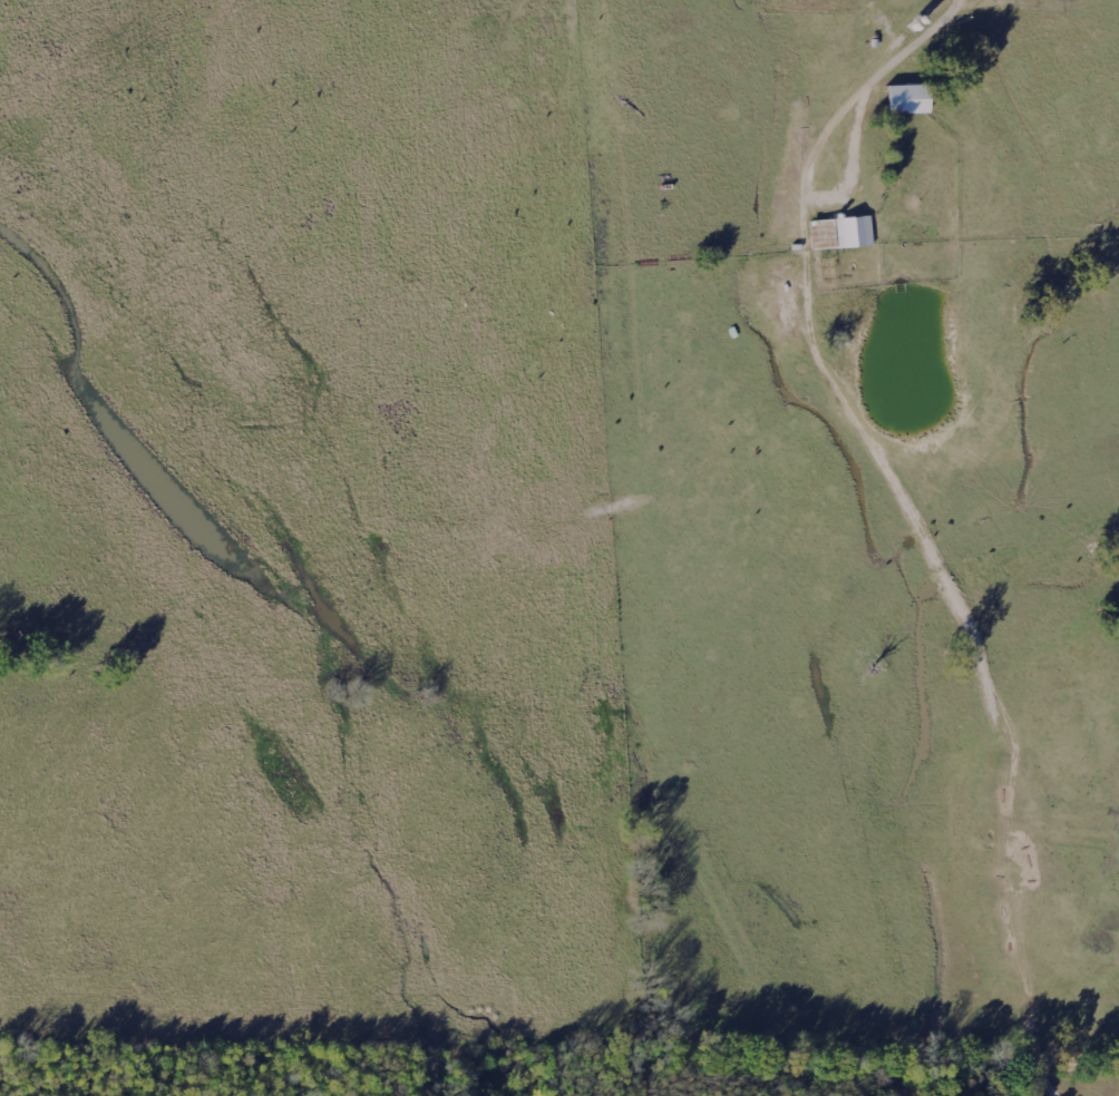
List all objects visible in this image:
building: (909, 100)
building: (843, 233)

